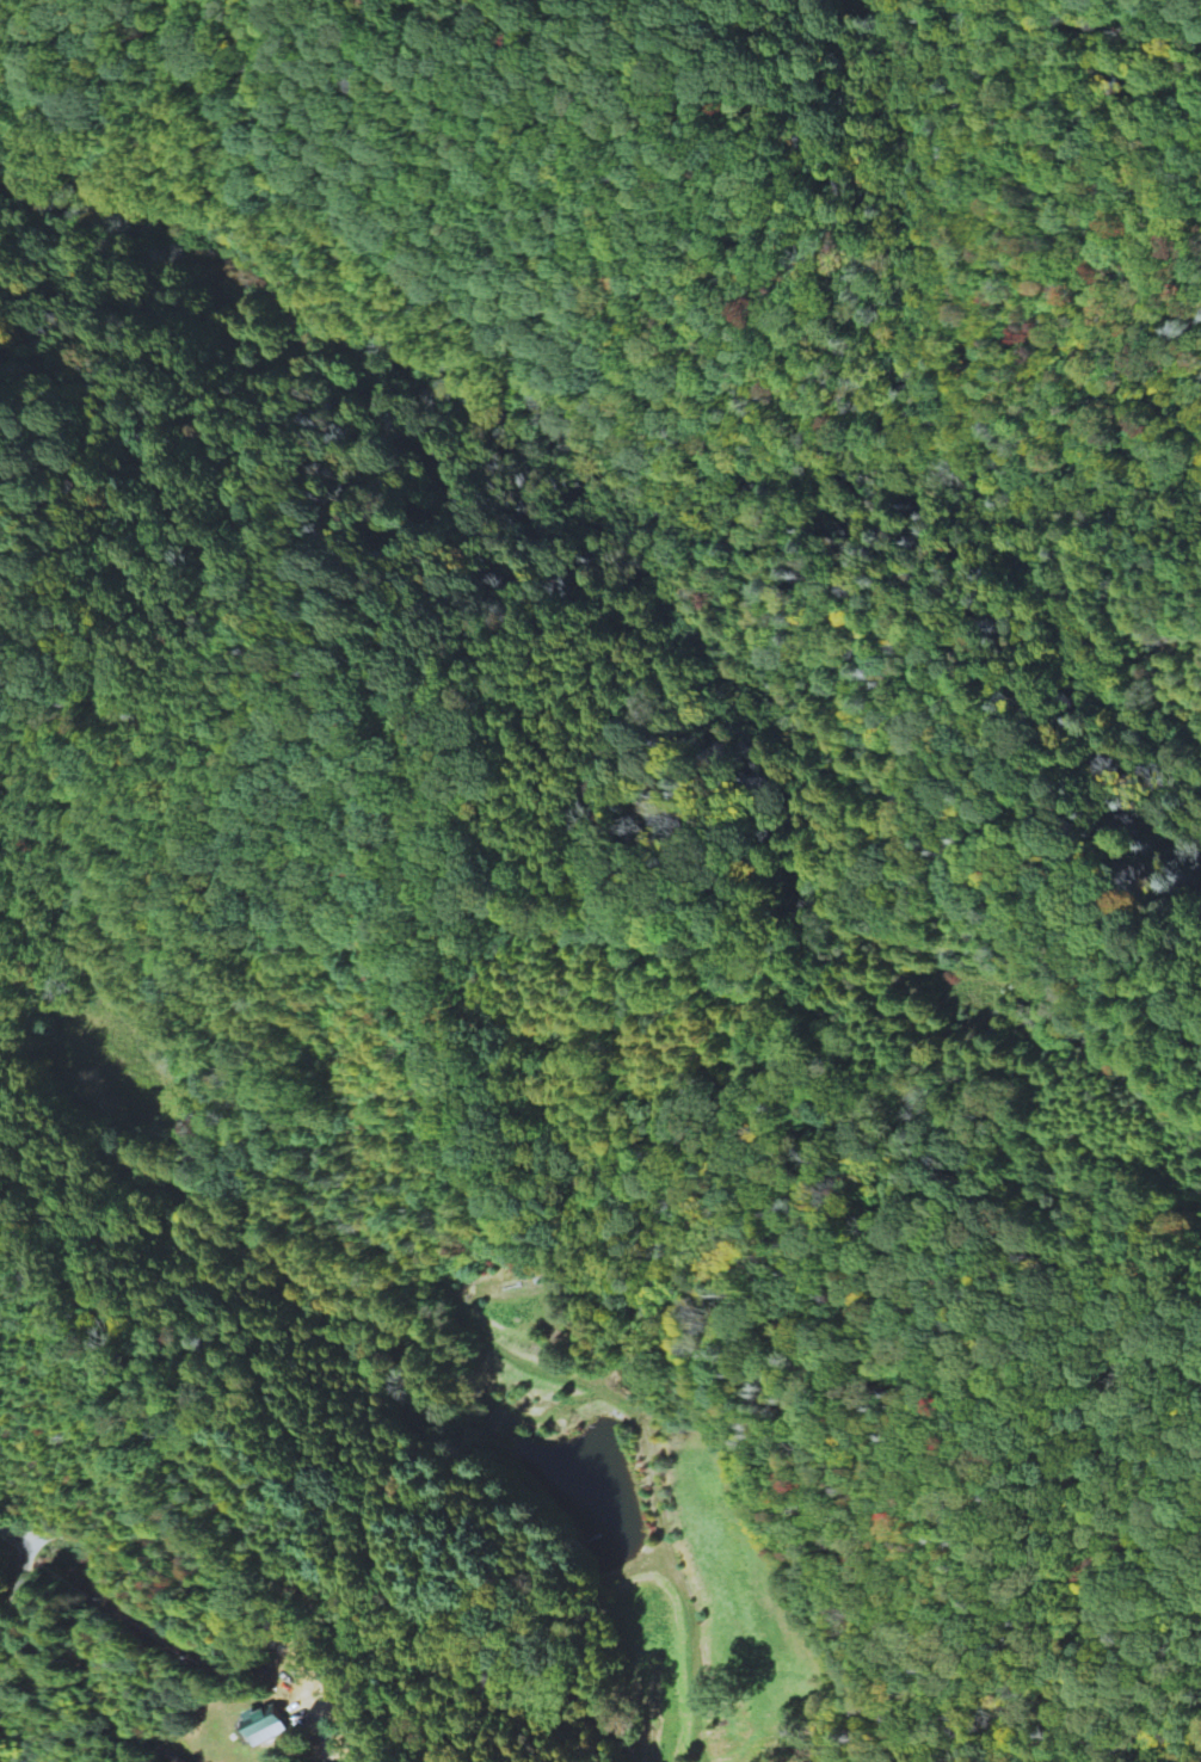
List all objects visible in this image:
road: (92, 1595)
road: (18, 1714)
road: (321, 1736)
road: (1197, 1756)

